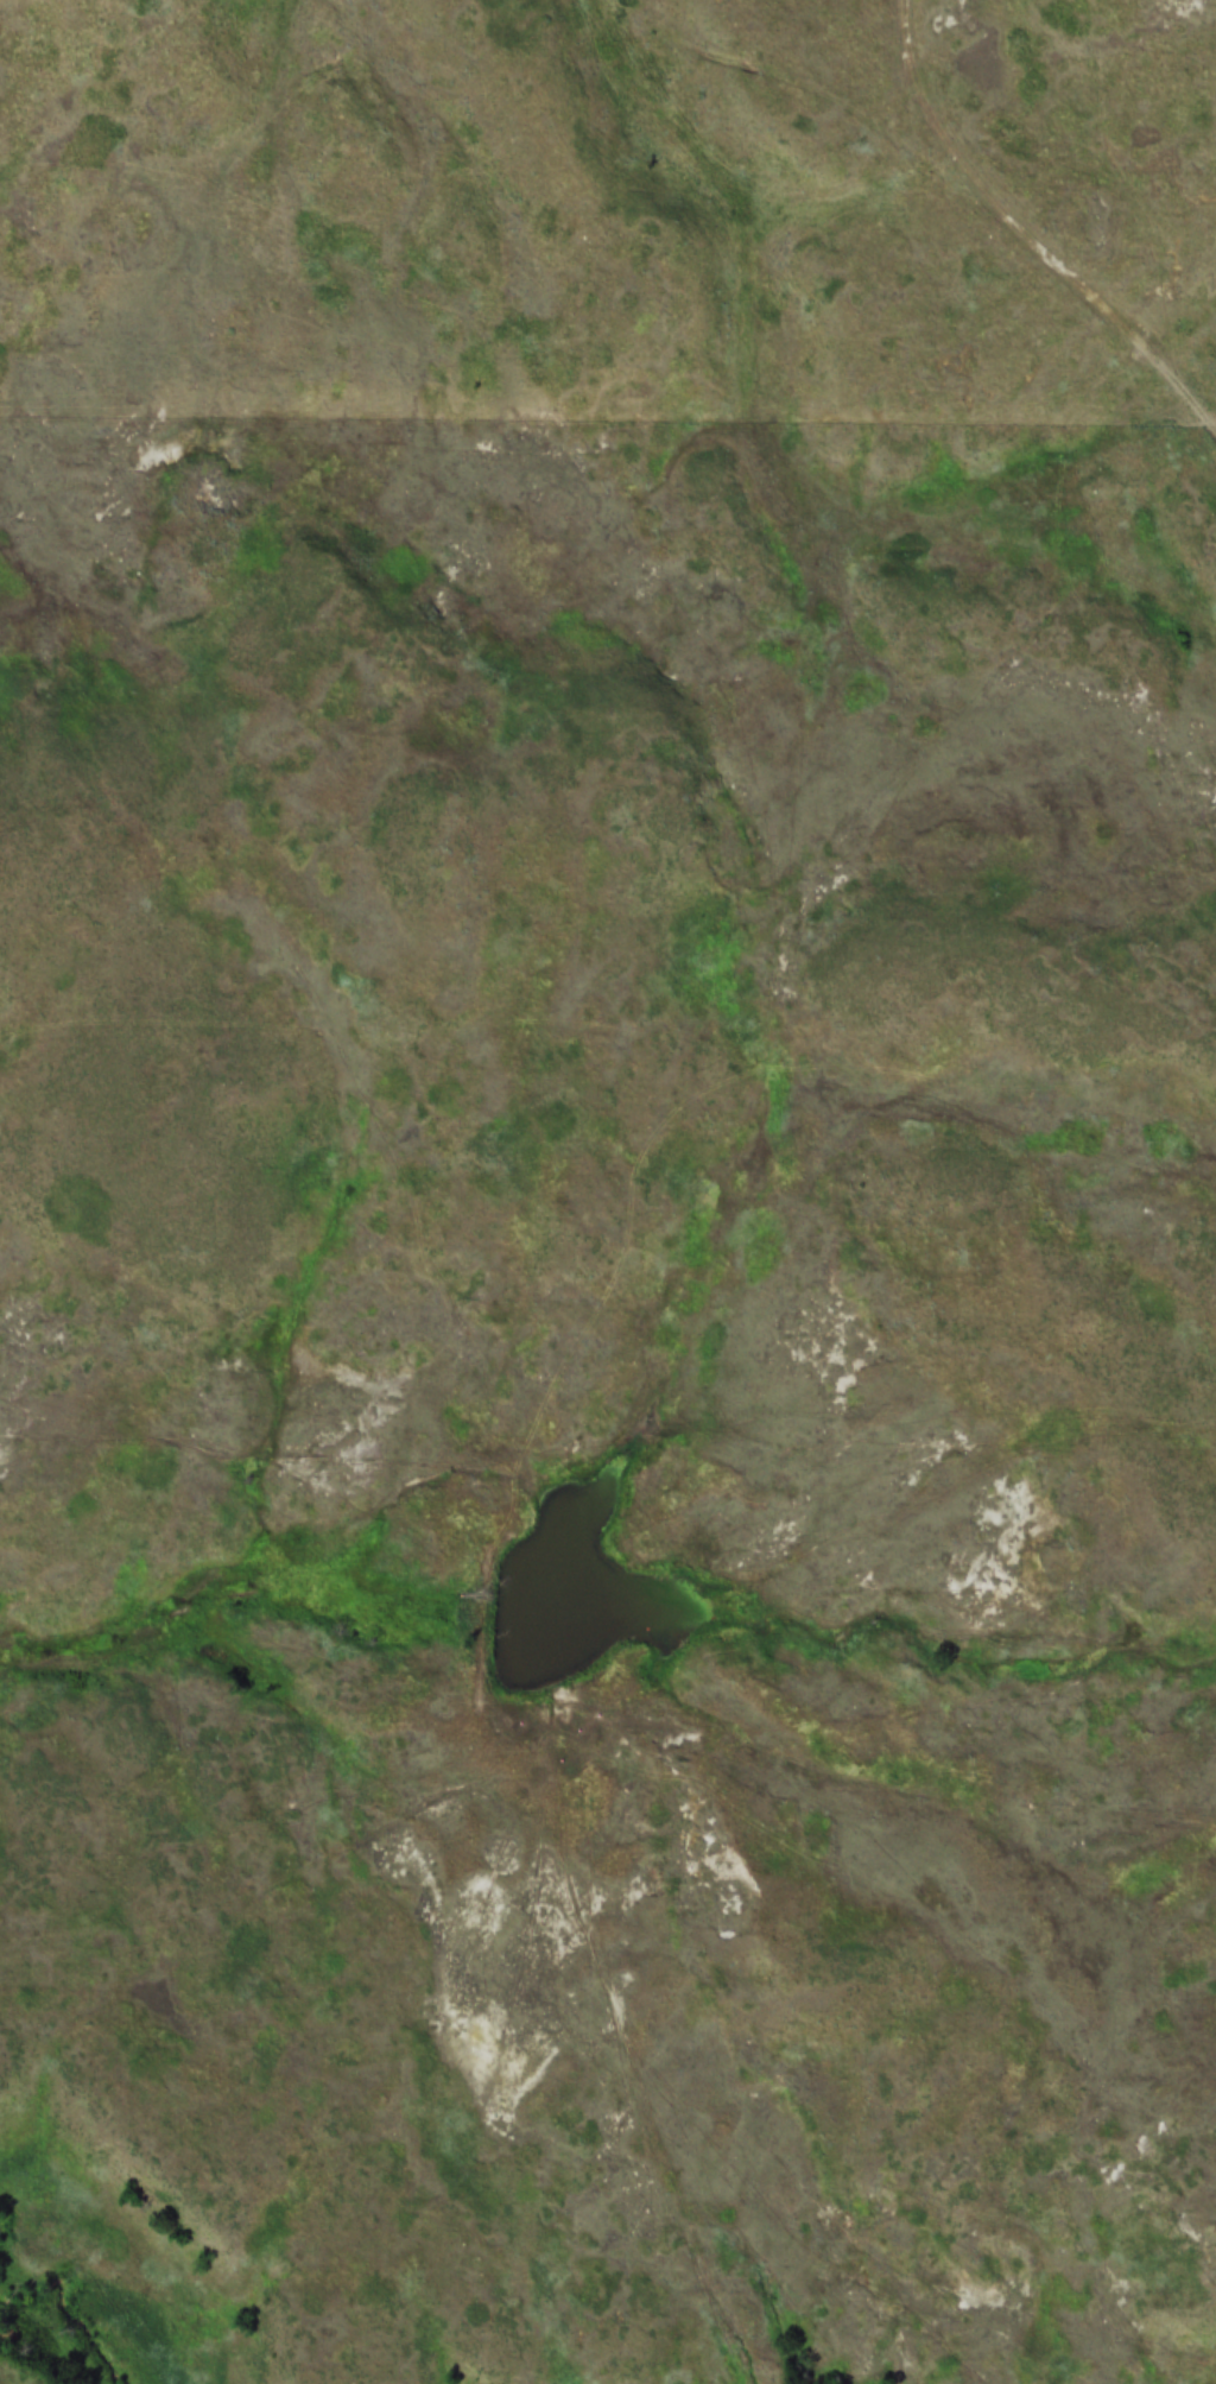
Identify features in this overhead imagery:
road: (1024, 232)

